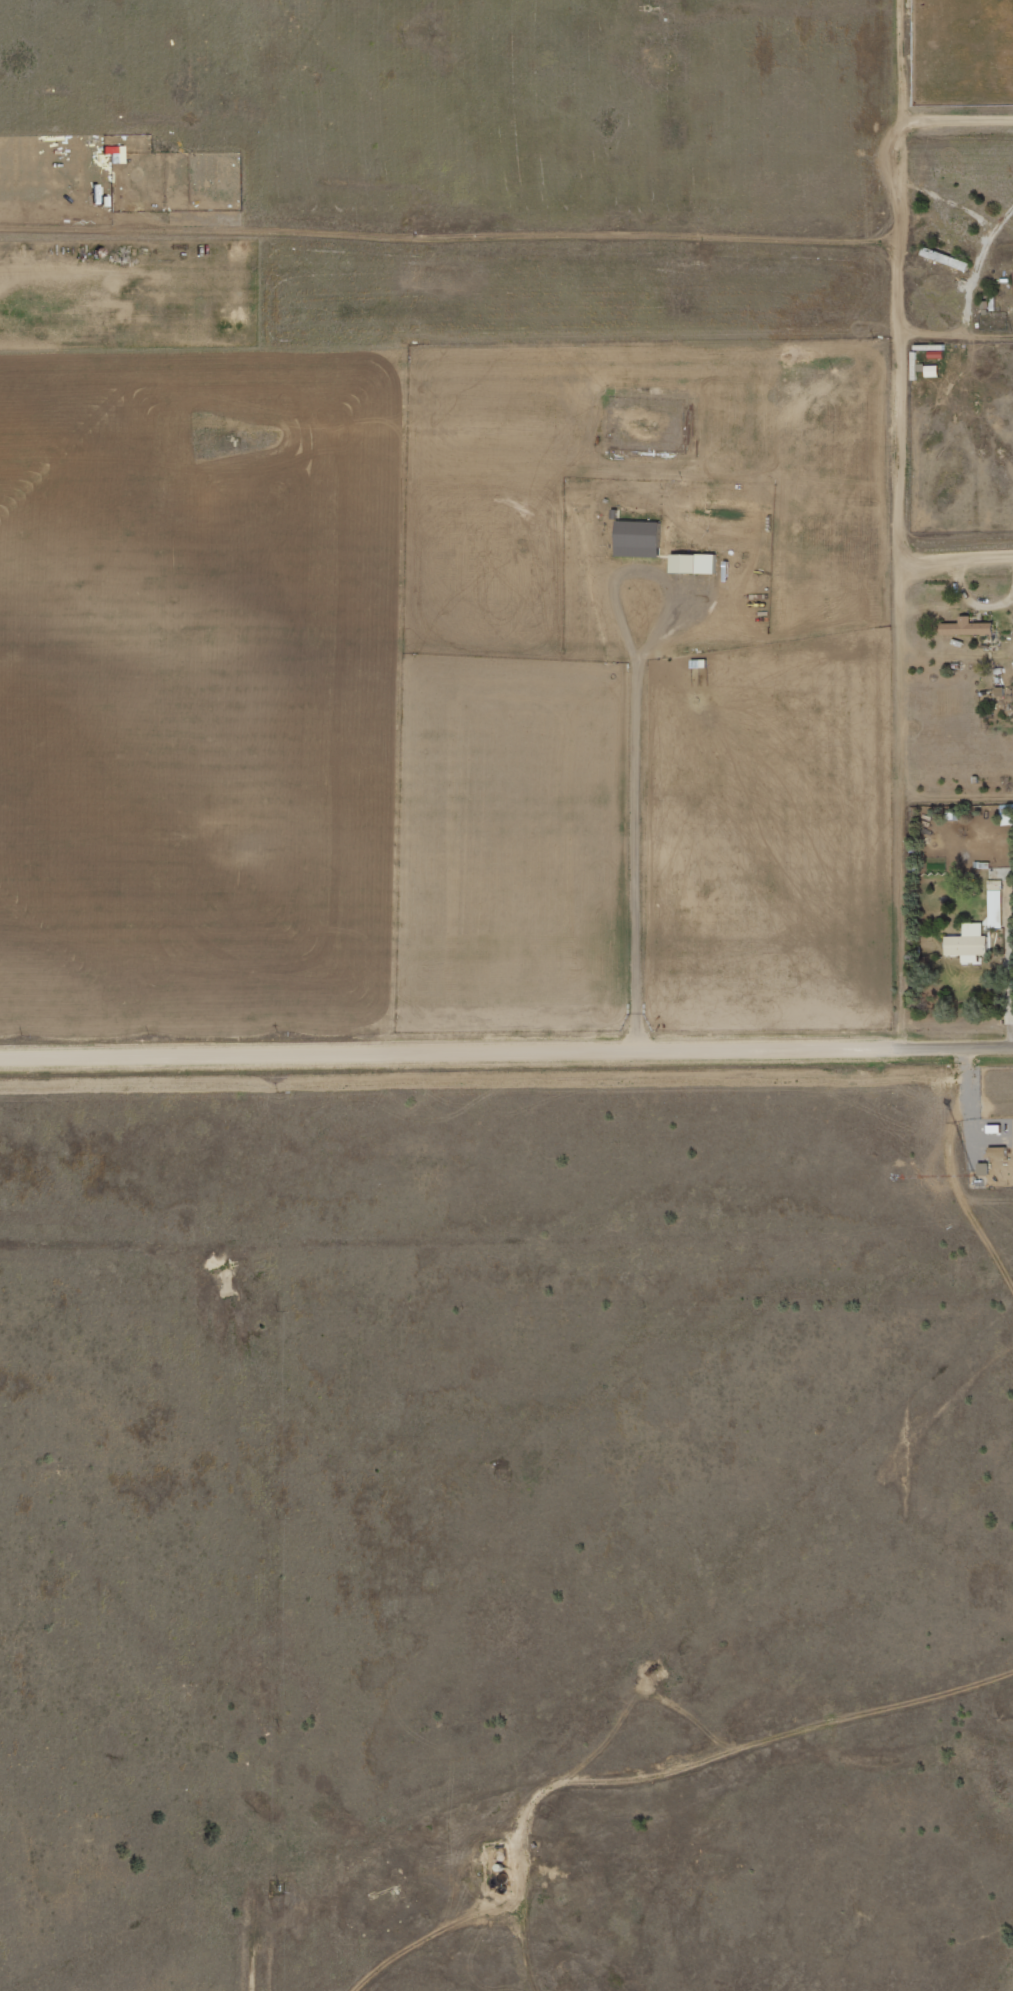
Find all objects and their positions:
road: (968, 121)
building: (117, 153)
building: (934, 372)
building: (640, 539)
road: (963, 558)
building: (687, 564)
building: (969, 627)
building: (997, 904)
building: (969, 945)
road: (506, 1052)
building: (997, 1128)
building: (1000, 1151)

